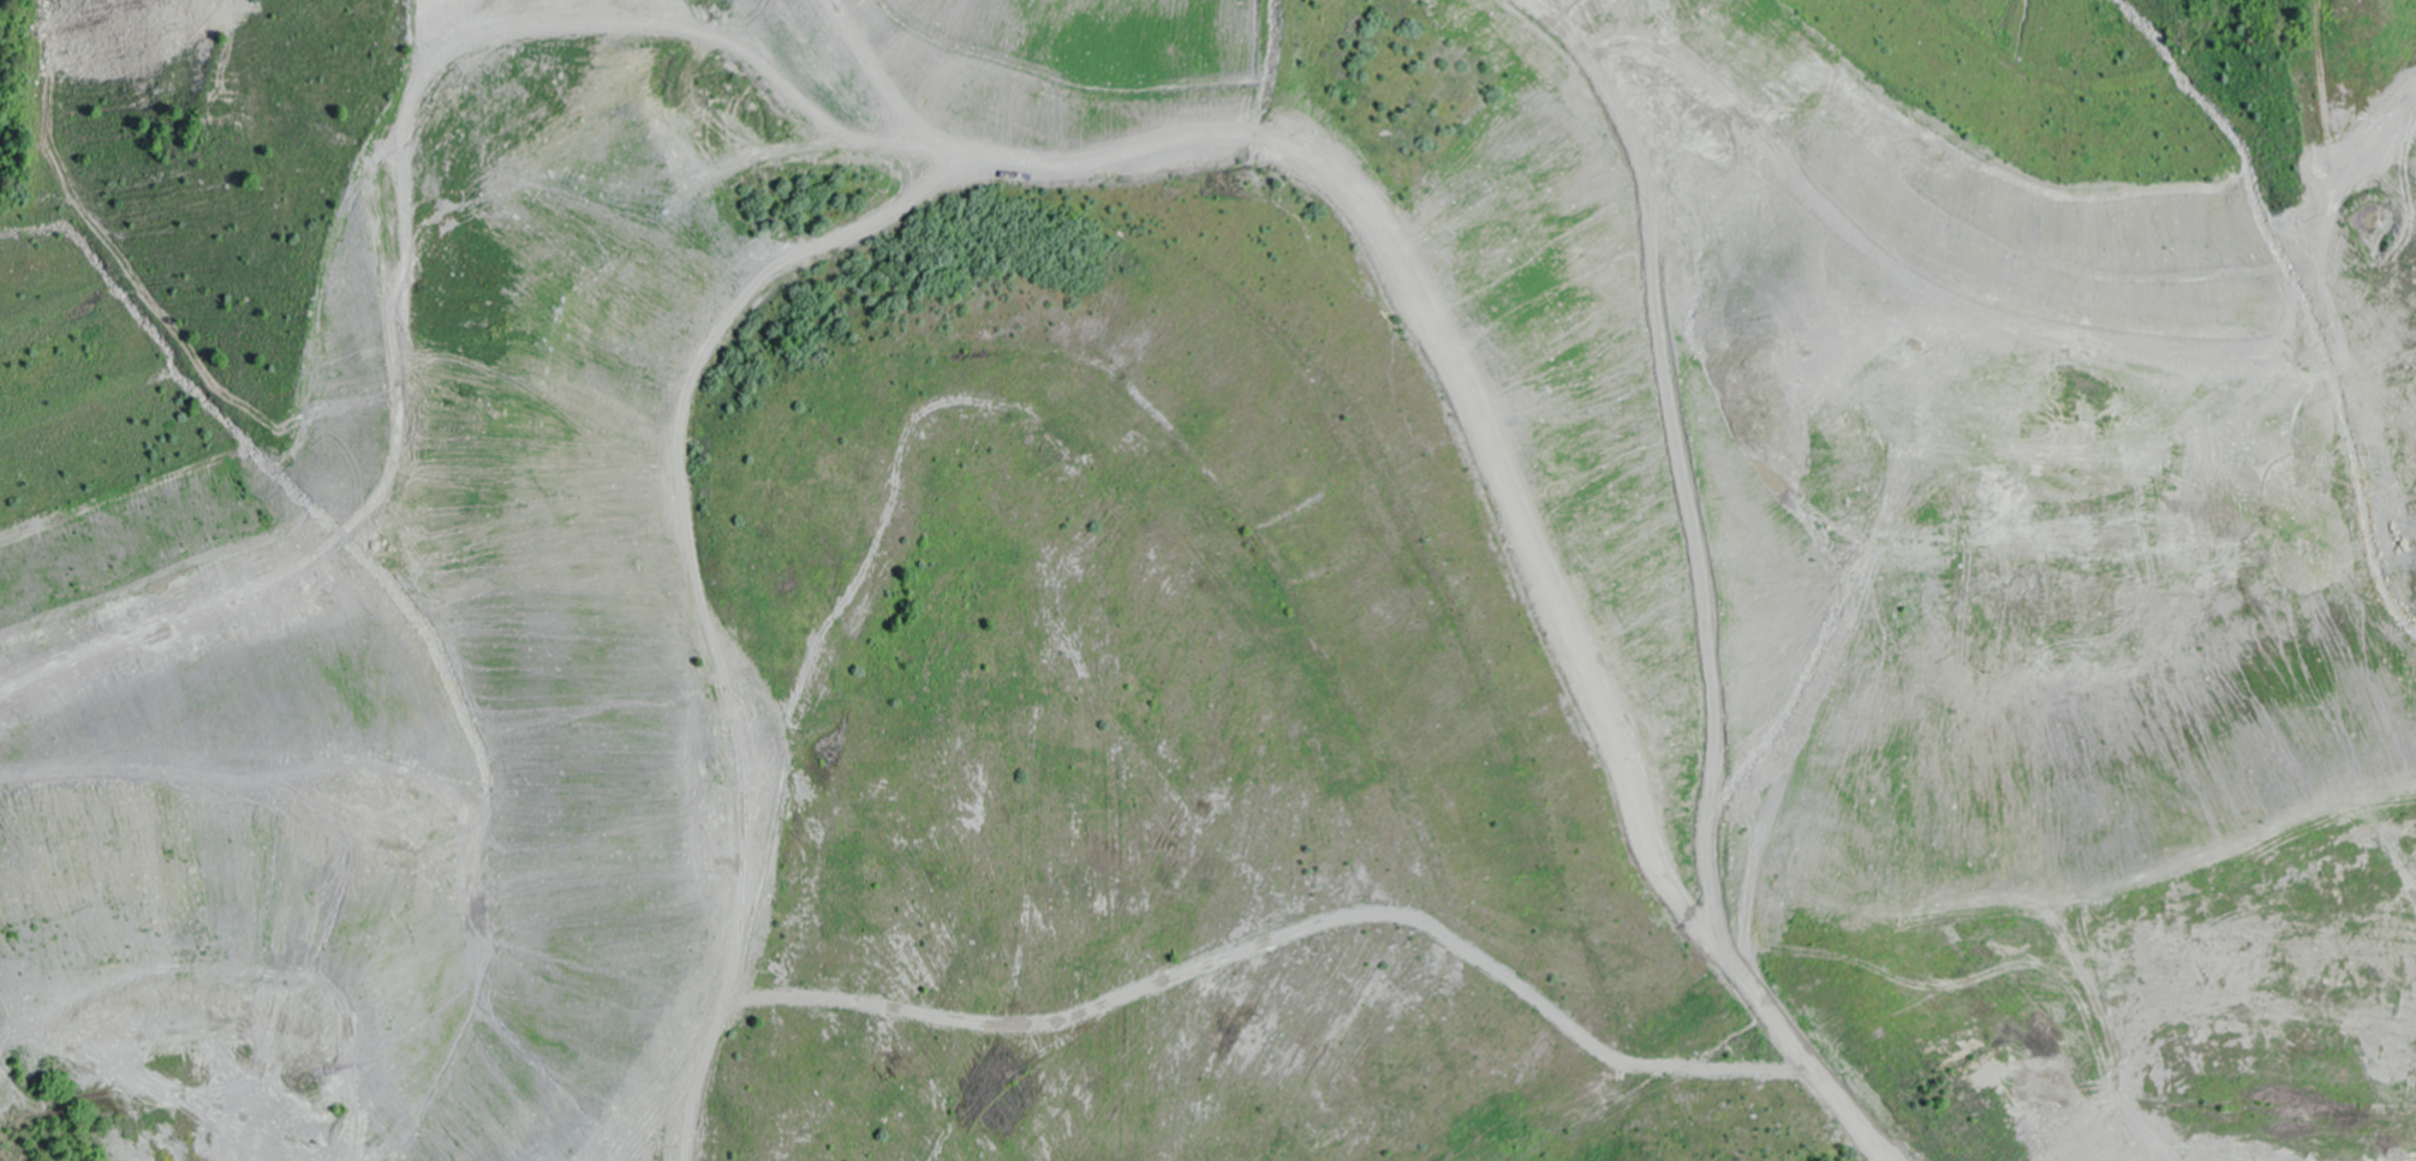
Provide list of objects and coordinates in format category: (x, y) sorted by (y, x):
building: (2158, 1142)

